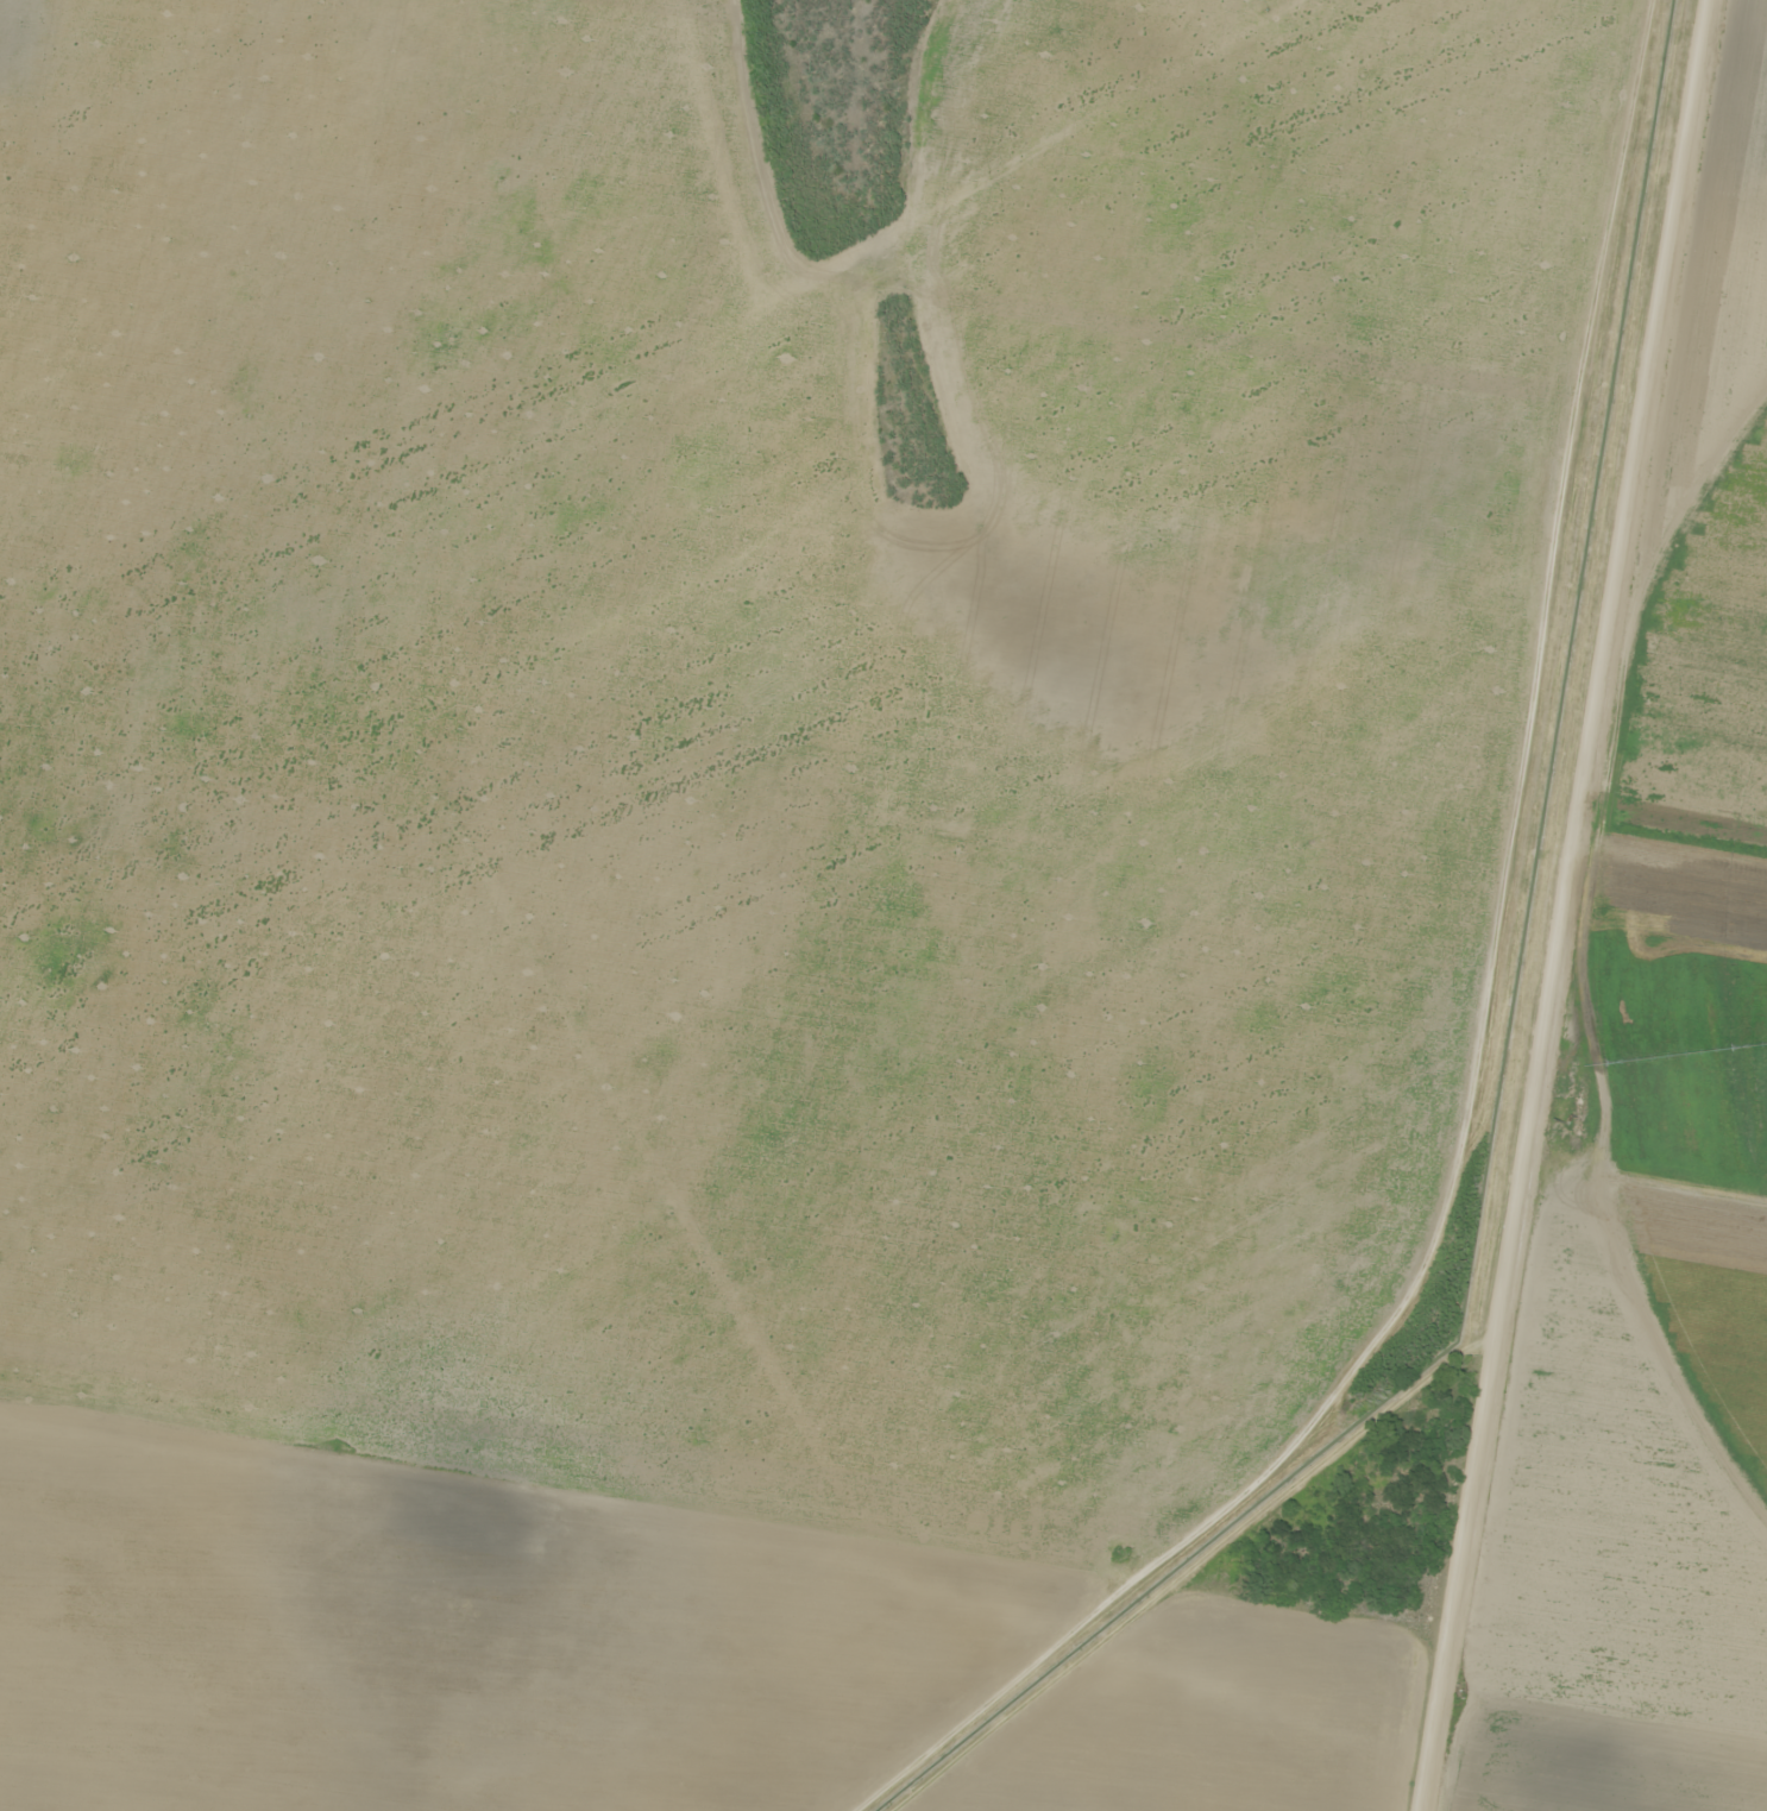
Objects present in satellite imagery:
road: (1559, 904)
road: (625, 1572)
road: (1347, 1711)

